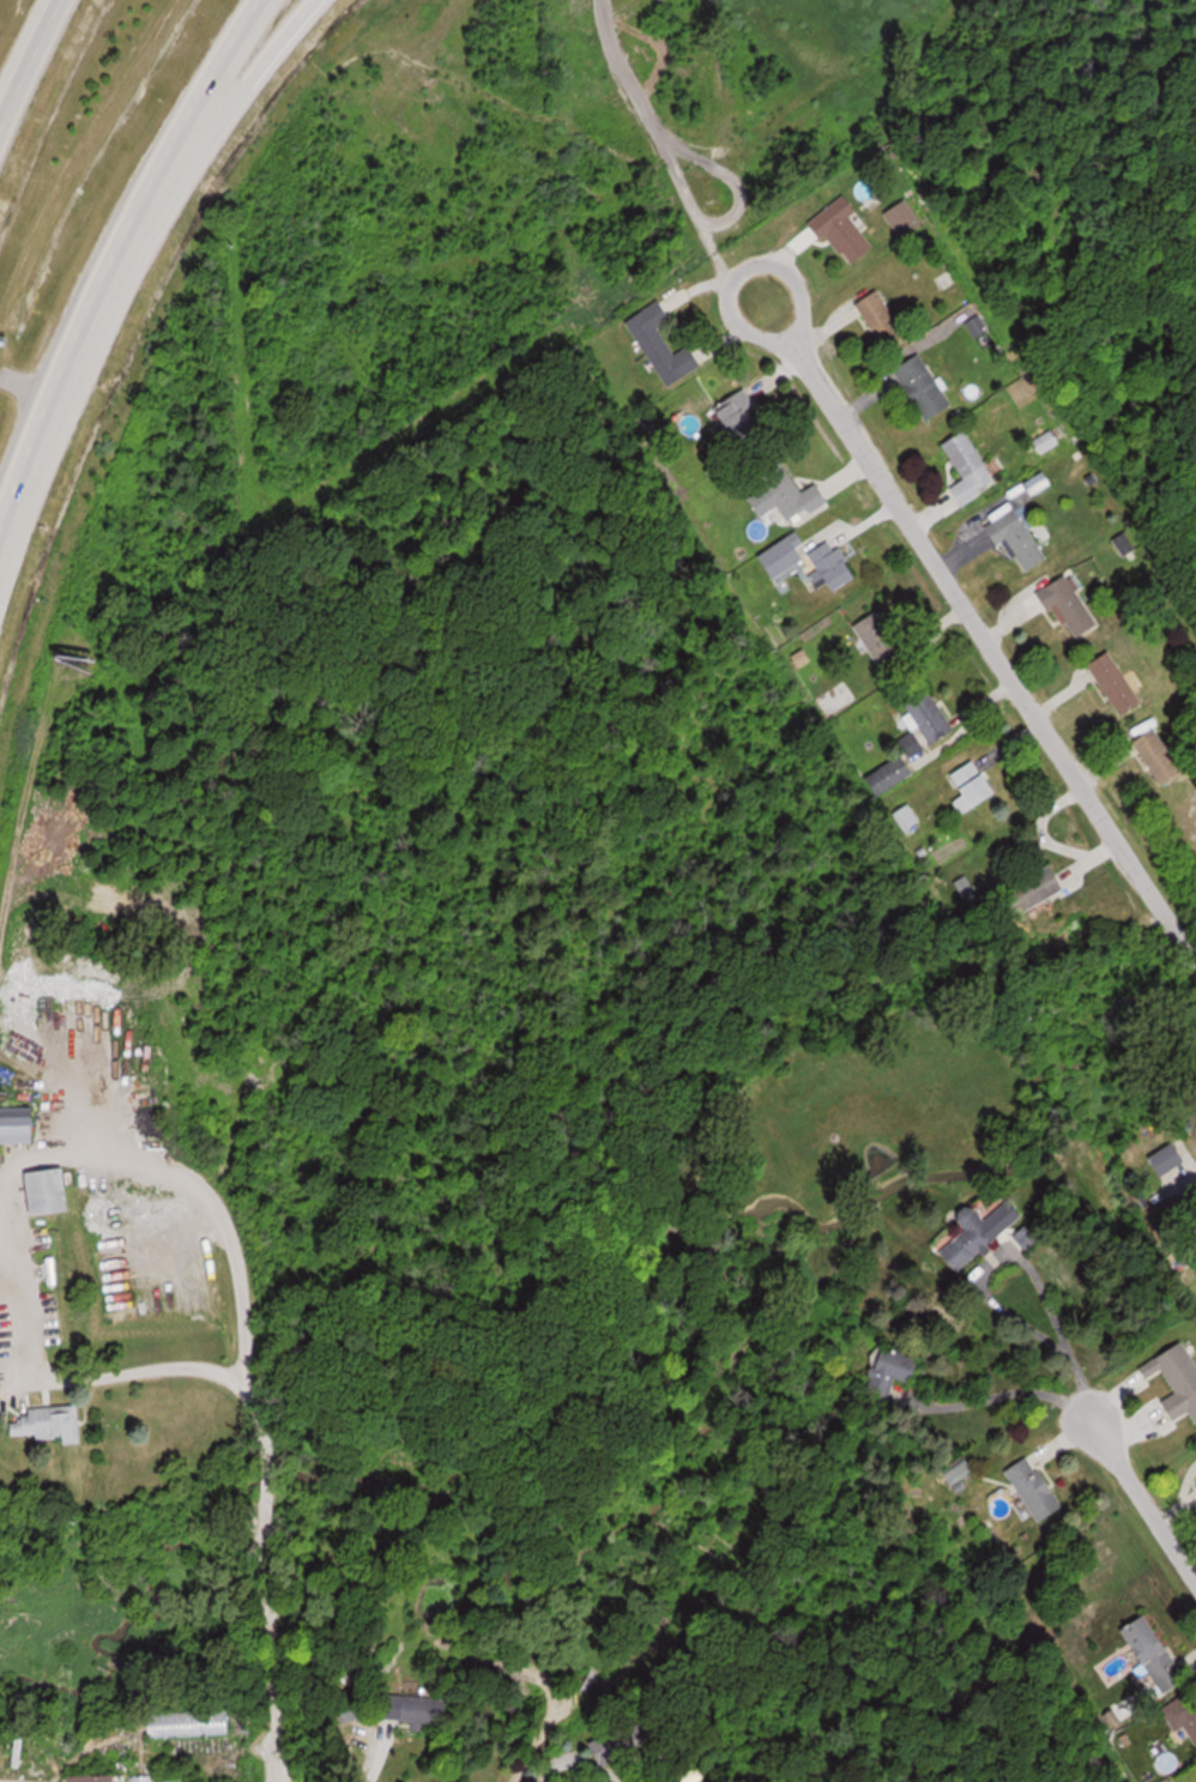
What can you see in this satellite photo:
road: (24, 54)
road: (163, 215)
building: (904, 217)
building: (844, 229)
road: (111, 249)
building: (882, 319)
building: (663, 344)
building: (924, 386)
building: (742, 417)
building: (970, 466)
building: (787, 493)
building: (1019, 540)
building: (834, 563)
building: (1070, 605)
road: (983, 633)
building: (883, 639)
building: (1118, 682)
building: (836, 697)
building: (930, 714)
building: (1164, 756)
building: (895, 772)
building: (973, 786)
building: (907, 816)
building: (1041, 888)
building: (18, 1126)
building: (1167, 1158)
building: (50, 1190)
building: (974, 1236)
building: (890, 1373)
building: (1178, 1378)
building: (49, 1422)
road: (1110, 1454)
road: (259, 1461)
building: (1035, 1487)
road: (1162, 1534)
building: (437, 1620)
building: (1155, 1653)
building: (415, 1708)
building: (1184, 1712)
building: (189, 1723)
building: (624, 1741)
road: (581, 1760)
building: (96, 1778)

